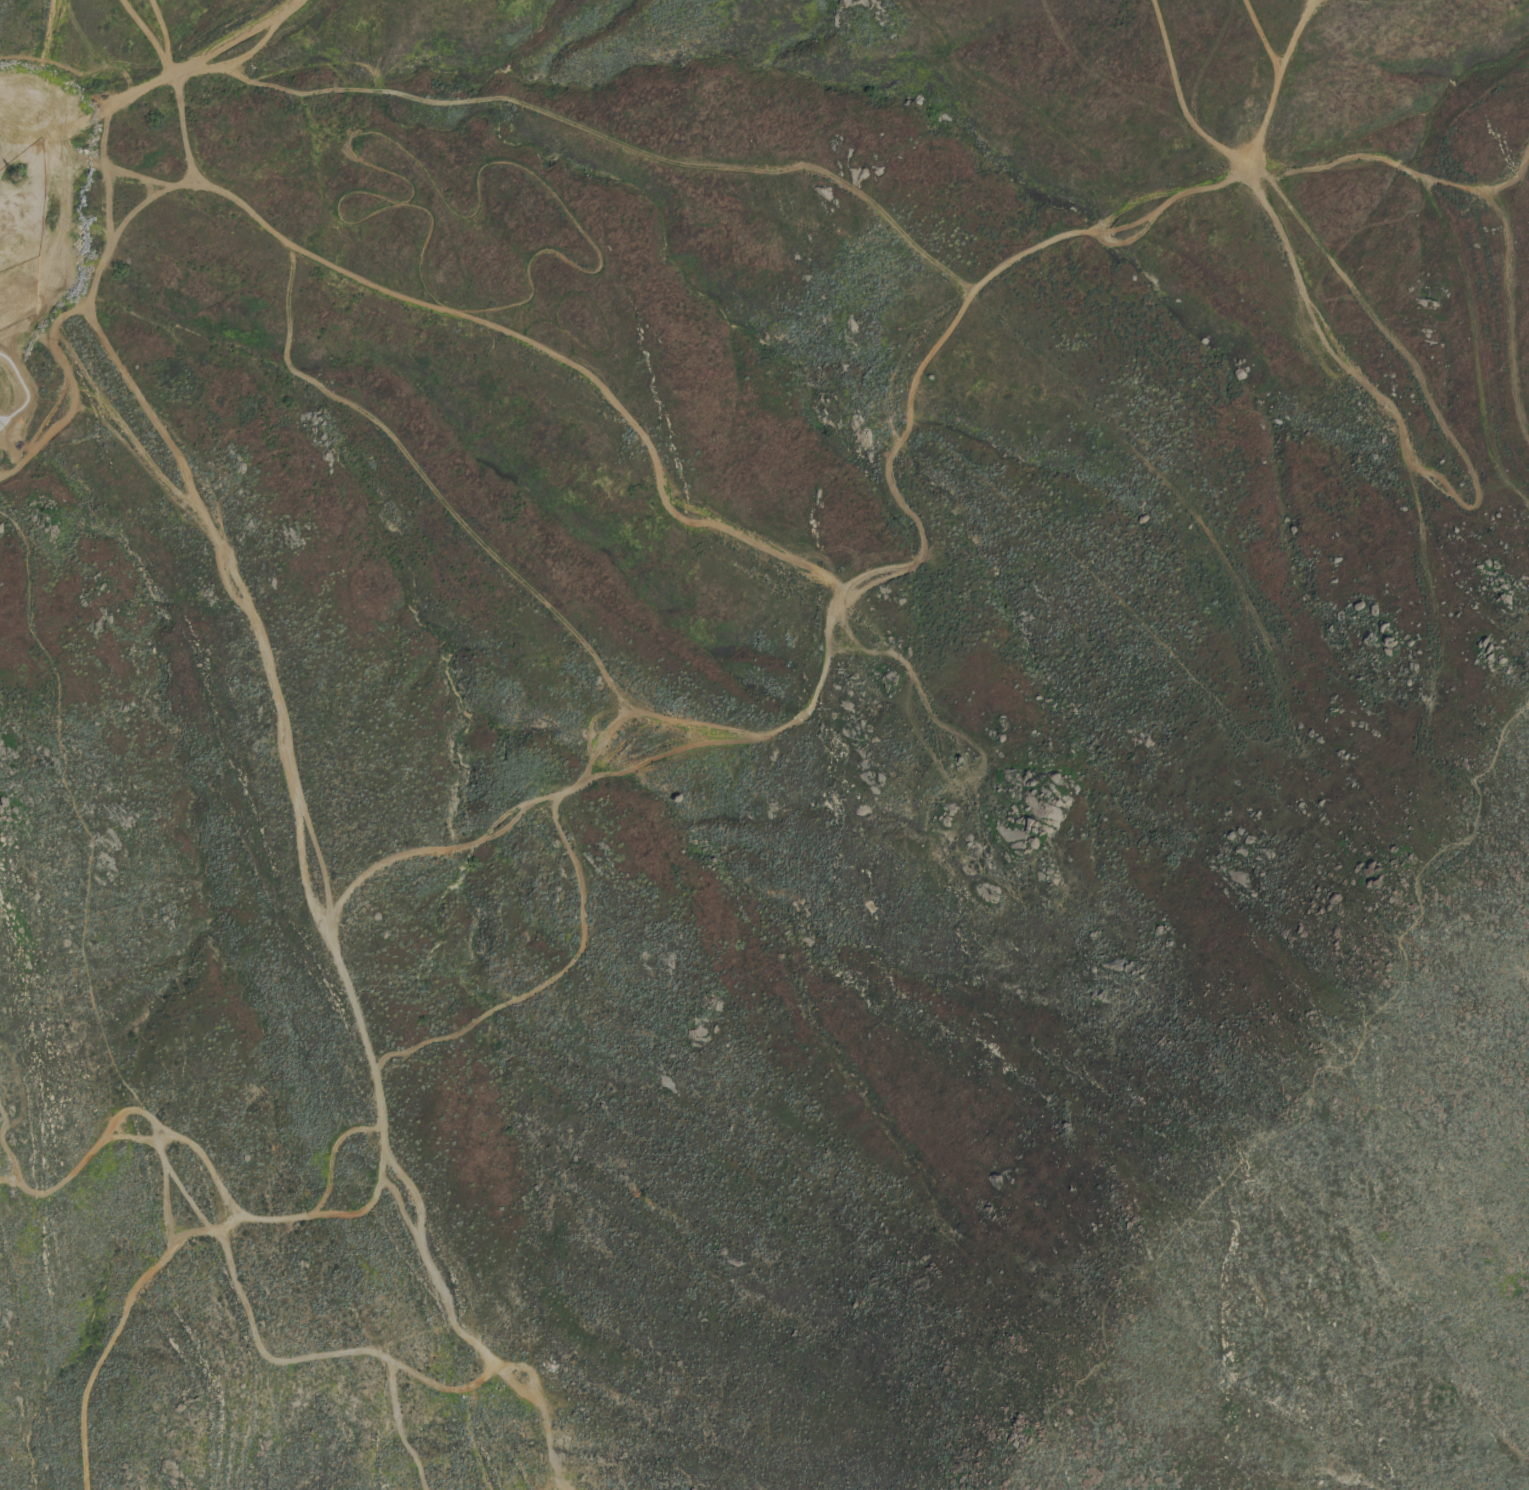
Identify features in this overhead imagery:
road: (106, 171)
road: (1305, 1108)

